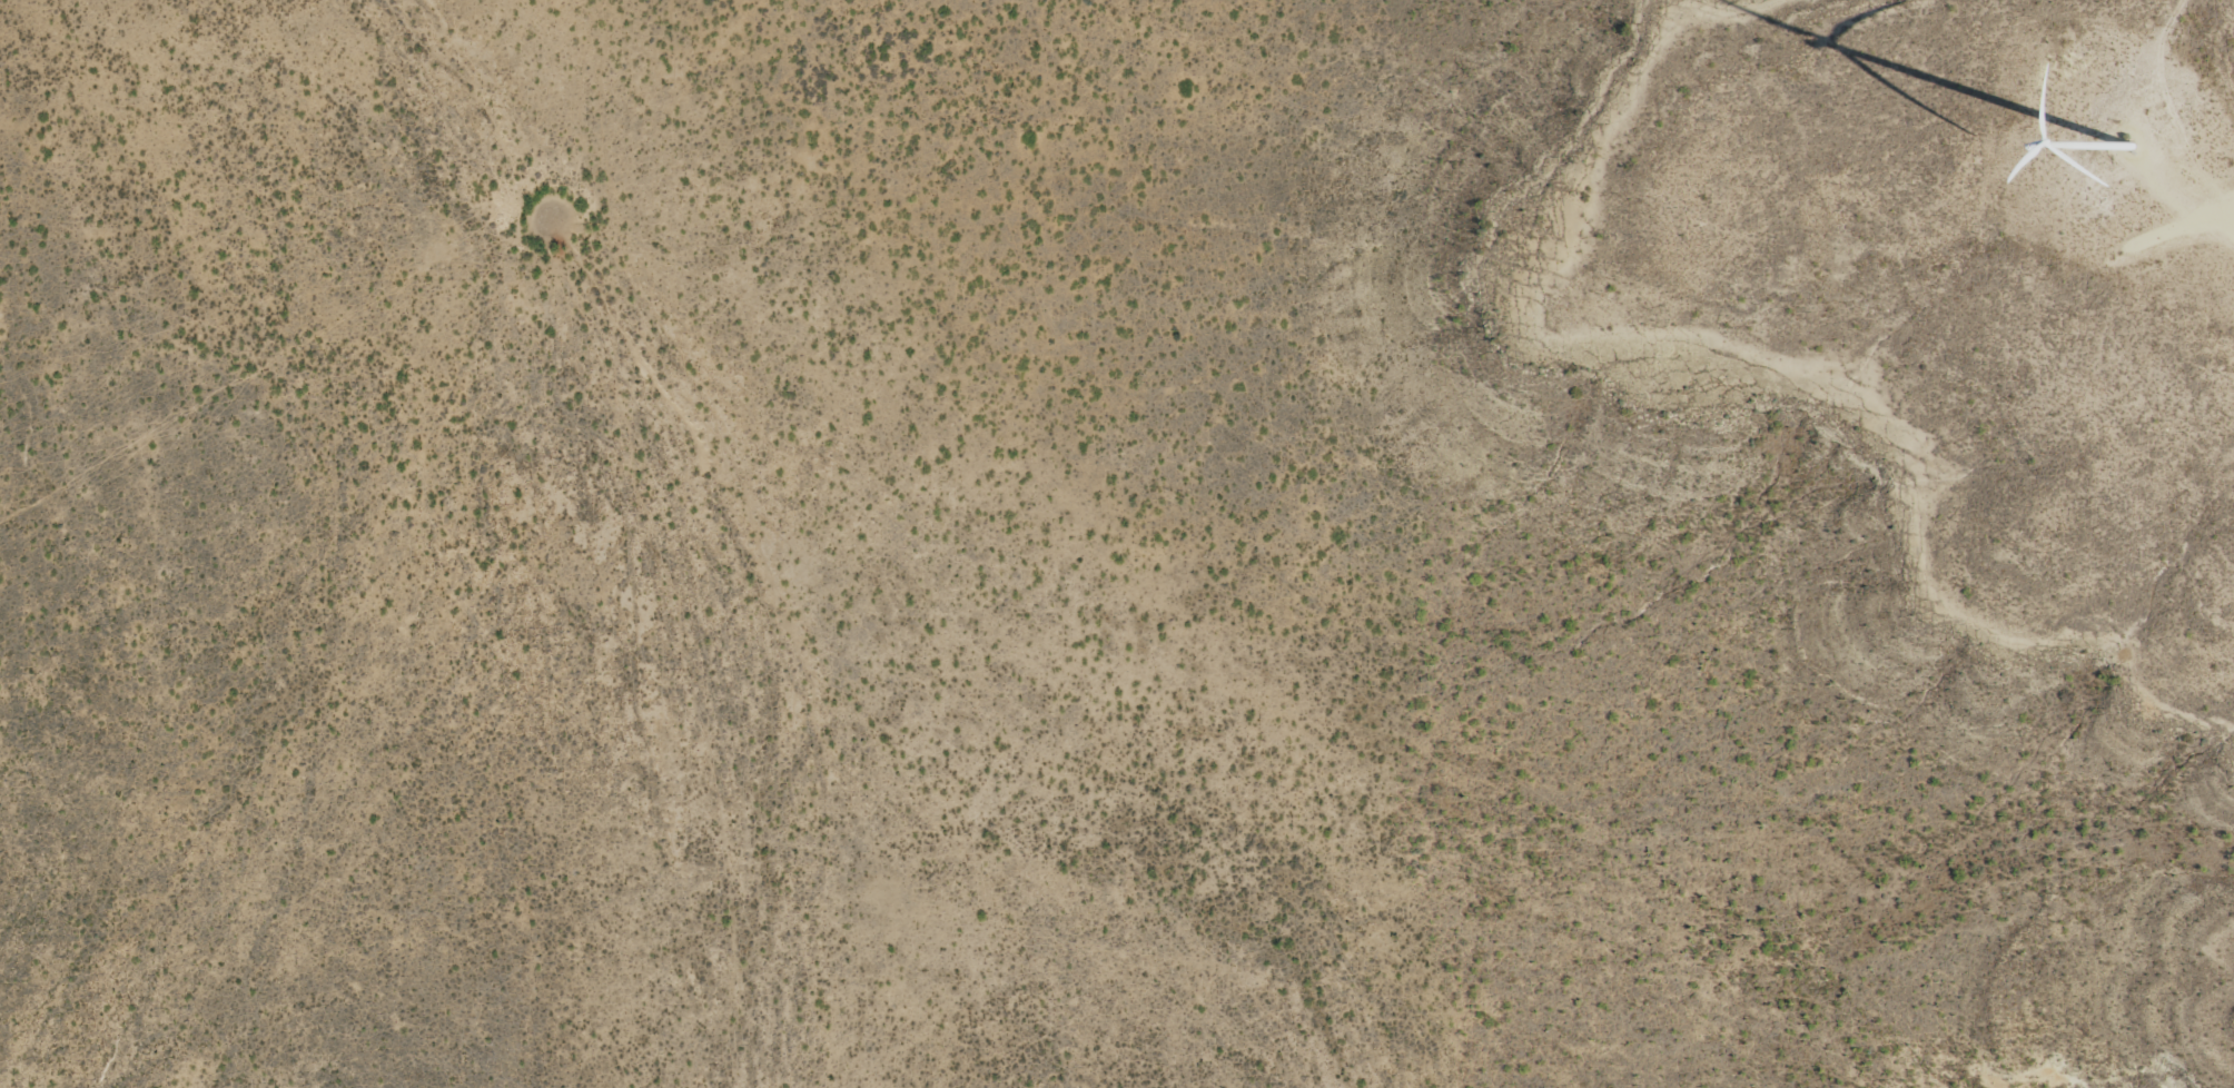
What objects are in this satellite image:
wind turbine: (2124, 148)

